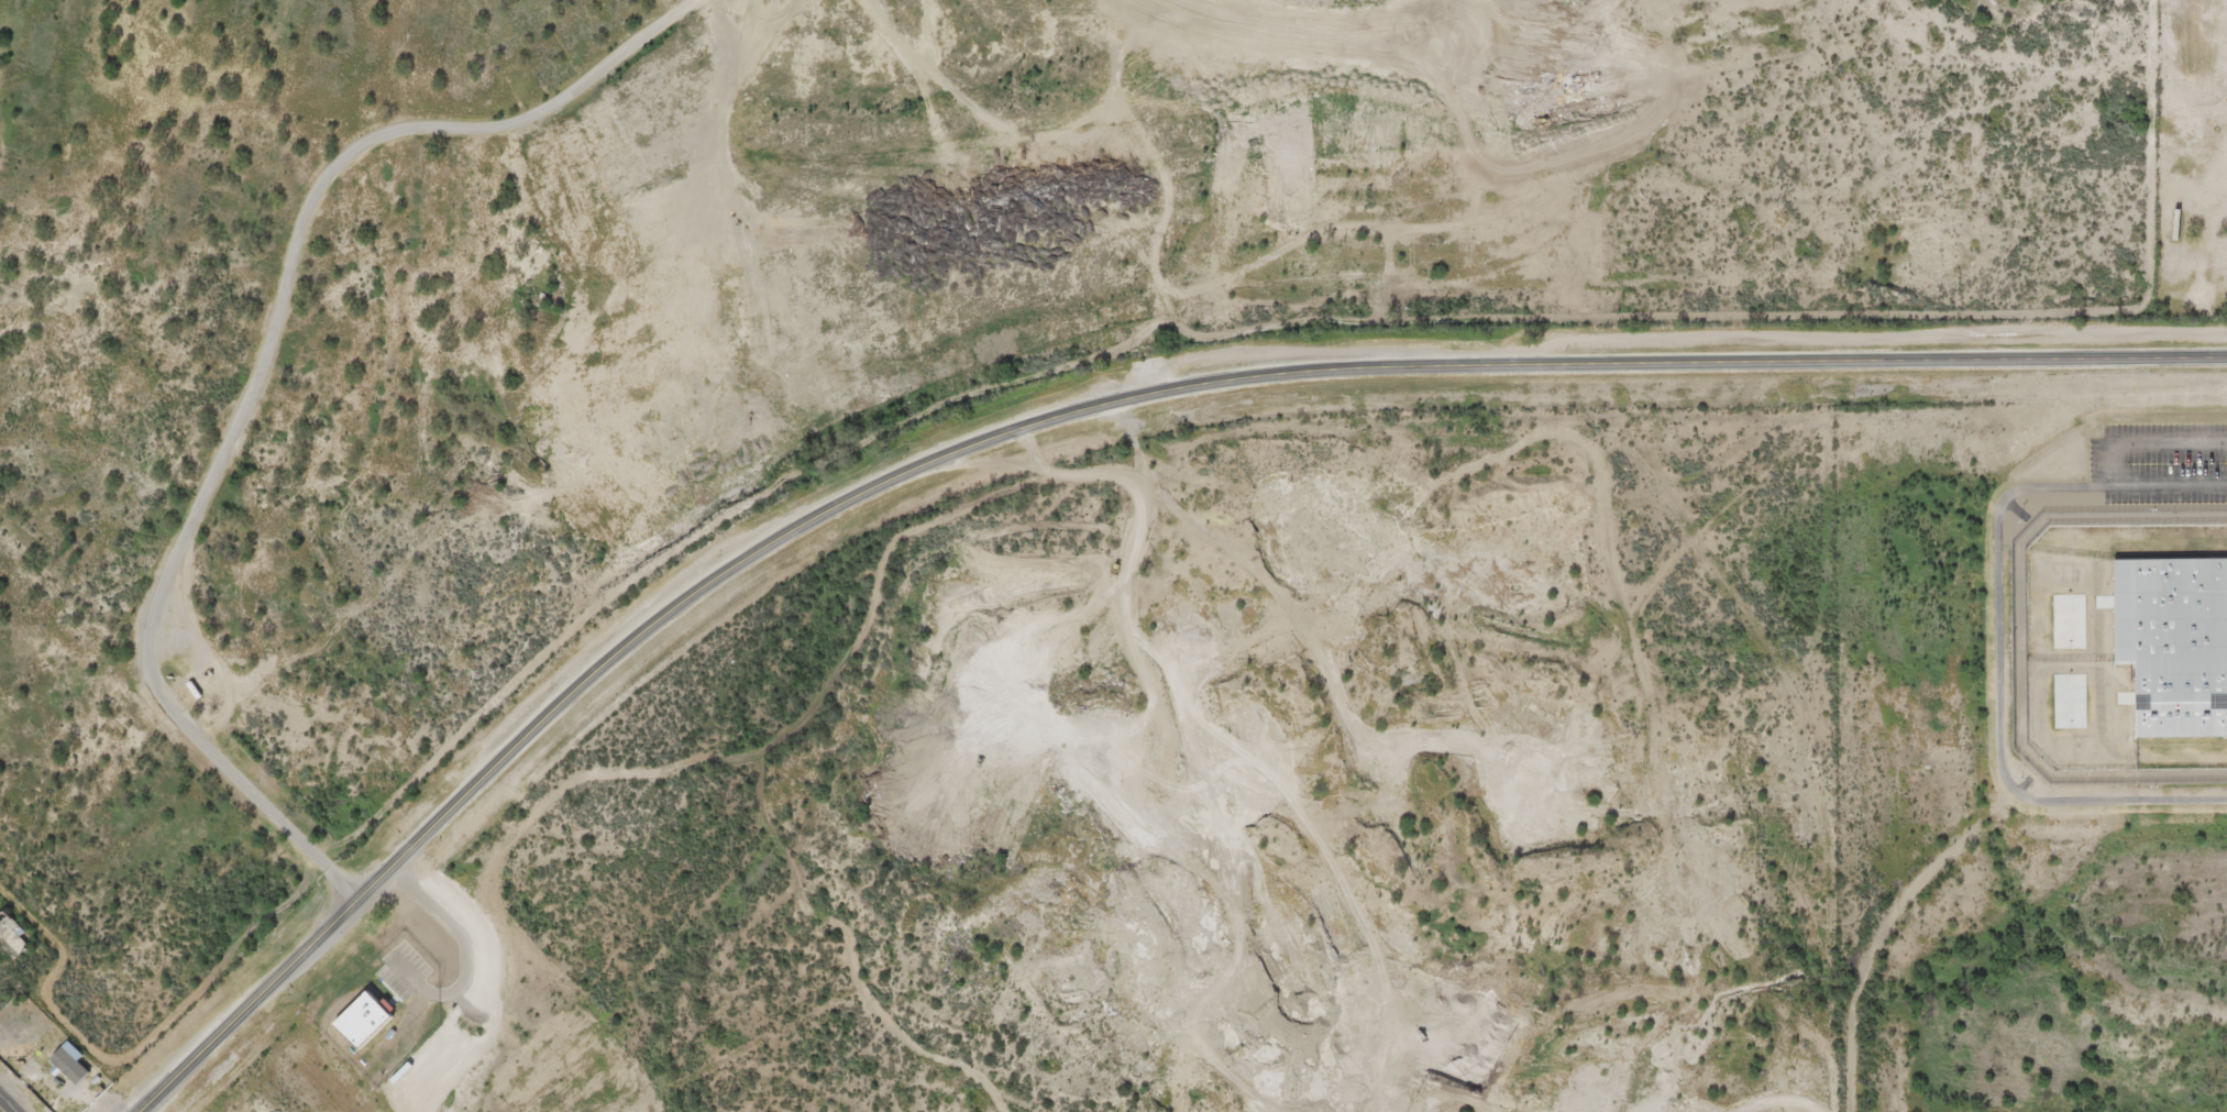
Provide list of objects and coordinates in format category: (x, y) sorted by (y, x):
road: (250, 384)
road: (1061, 419)
building: (2171, 643)
road: (1887, 932)
building: (374, 1016)
road: (2, 1109)

